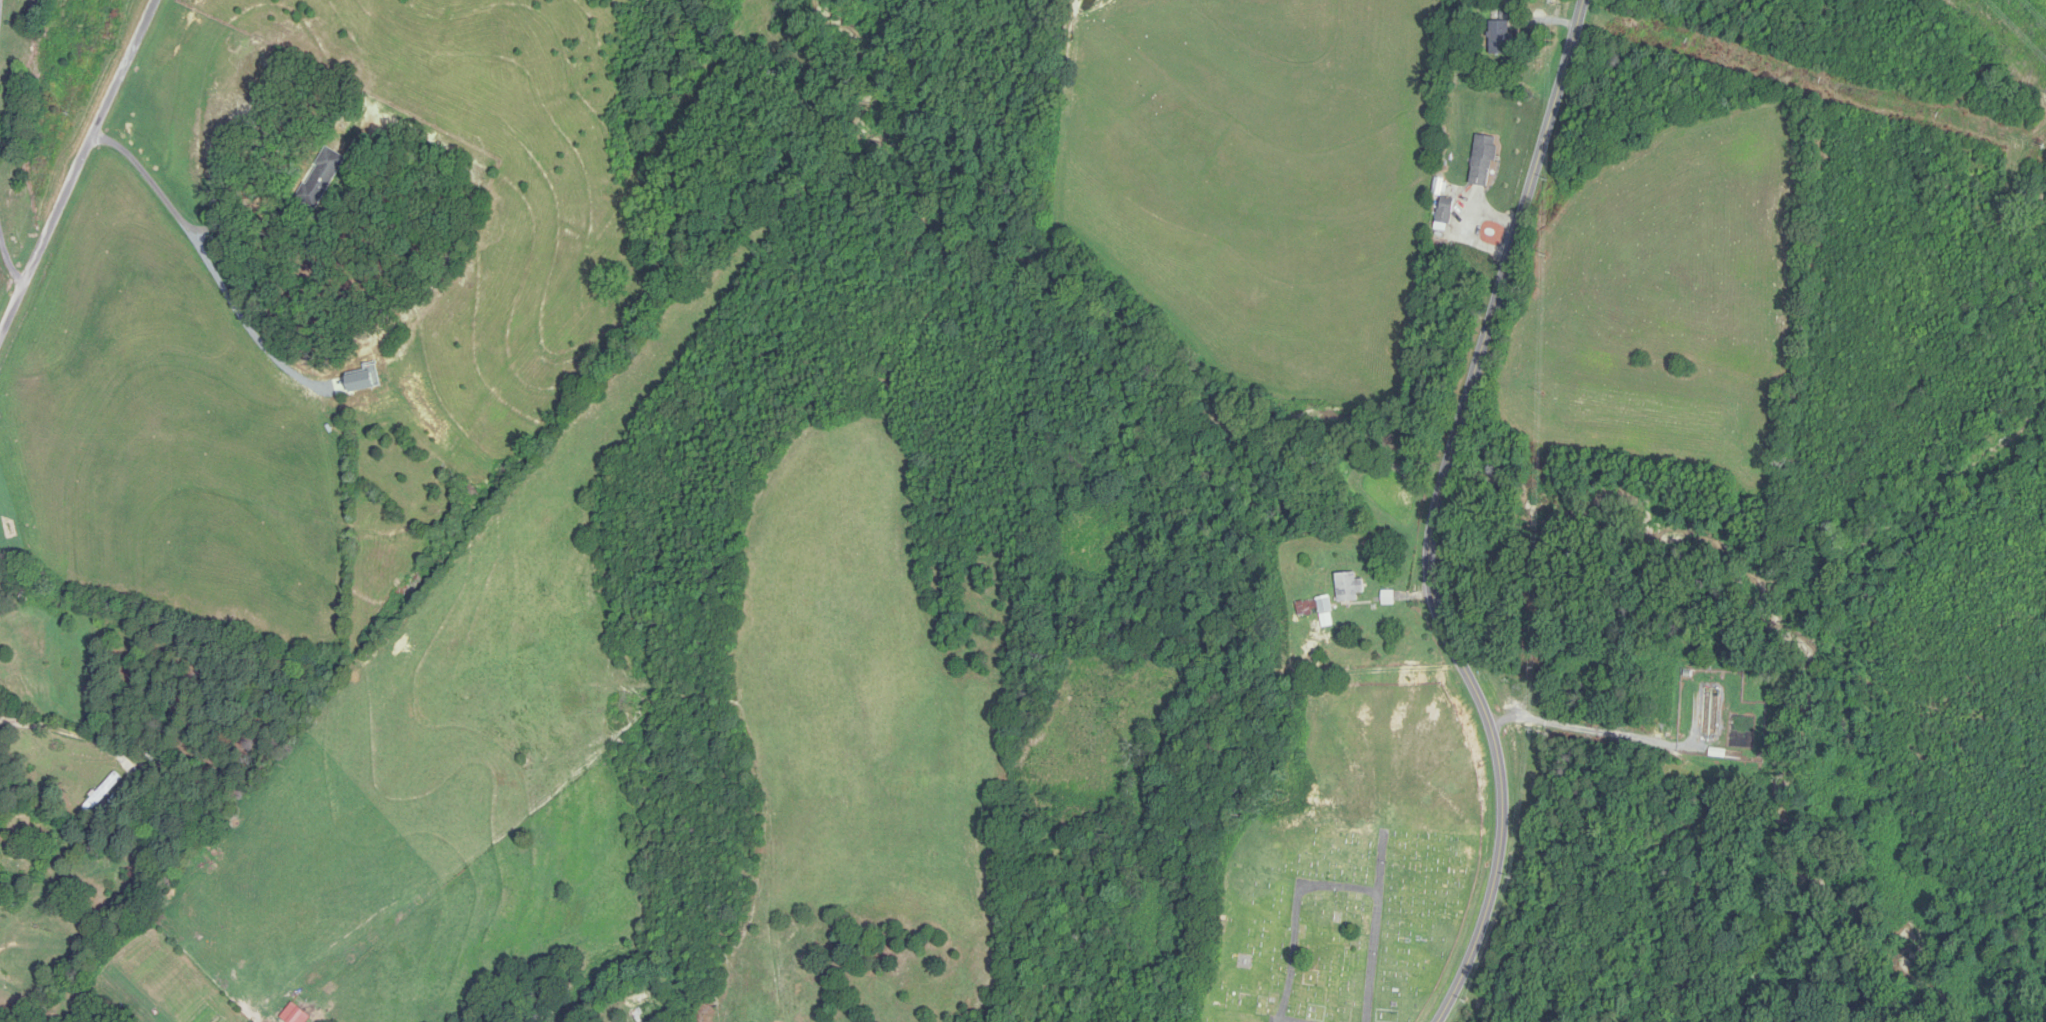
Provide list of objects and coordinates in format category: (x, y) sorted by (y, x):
road: (0, 1)
building: (1501, 38)
building: (1483, 161)
road: (76, 169)
building: (322, 178)
building: (1445, 210)
road: (177, 212)
road: (9, 260)
road: (1435, 513)
building: (1349, 587)
building: (1314, 607)
building: (105, 787)
park: (1352, 868)

